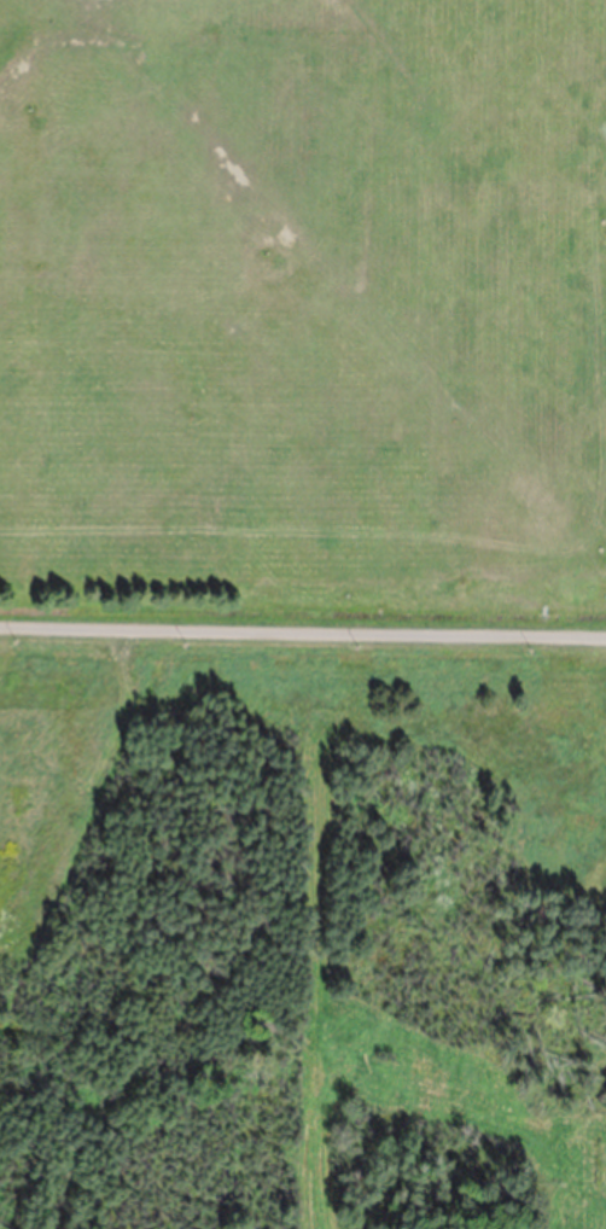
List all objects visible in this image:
road: (217, 35)
landfill: (303, 614)
road: (303, 623)

